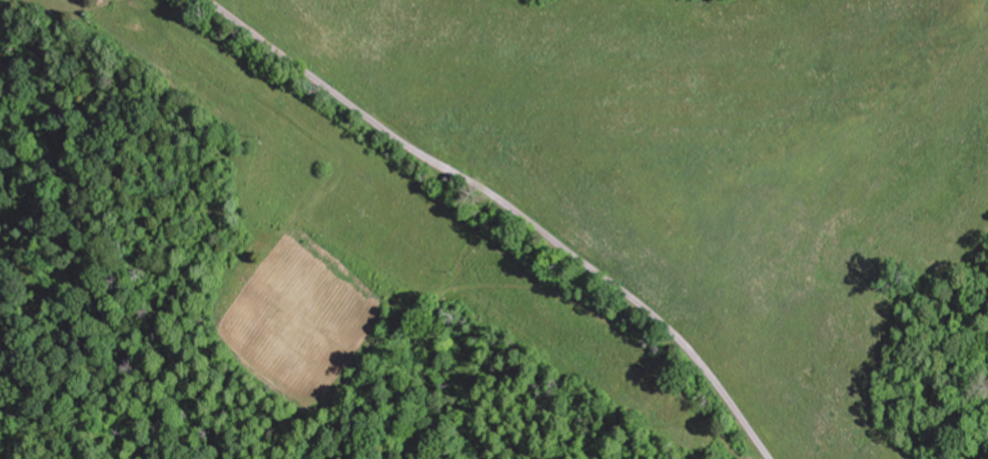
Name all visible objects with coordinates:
road: (508, 206)

